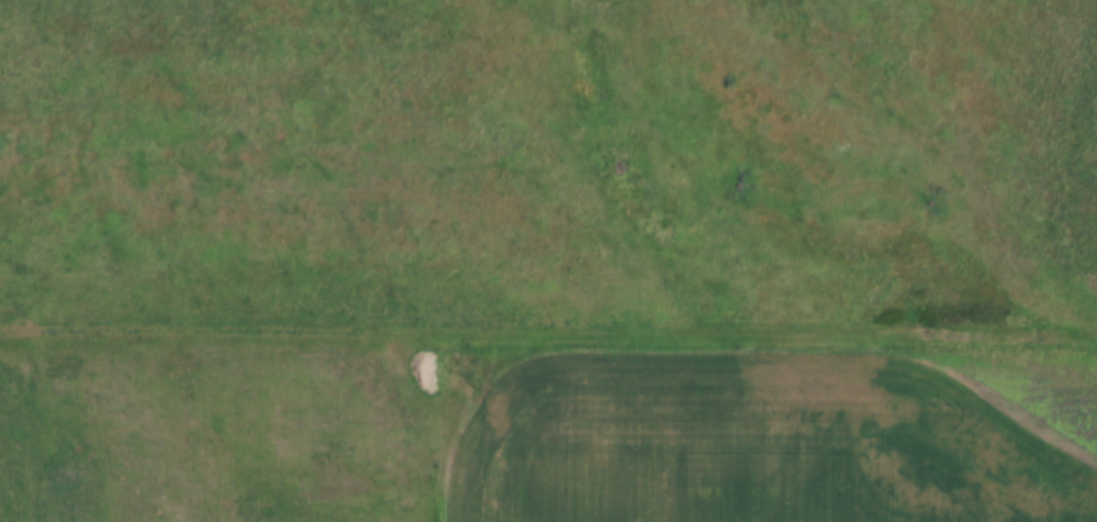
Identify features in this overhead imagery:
road: (548, 334)

